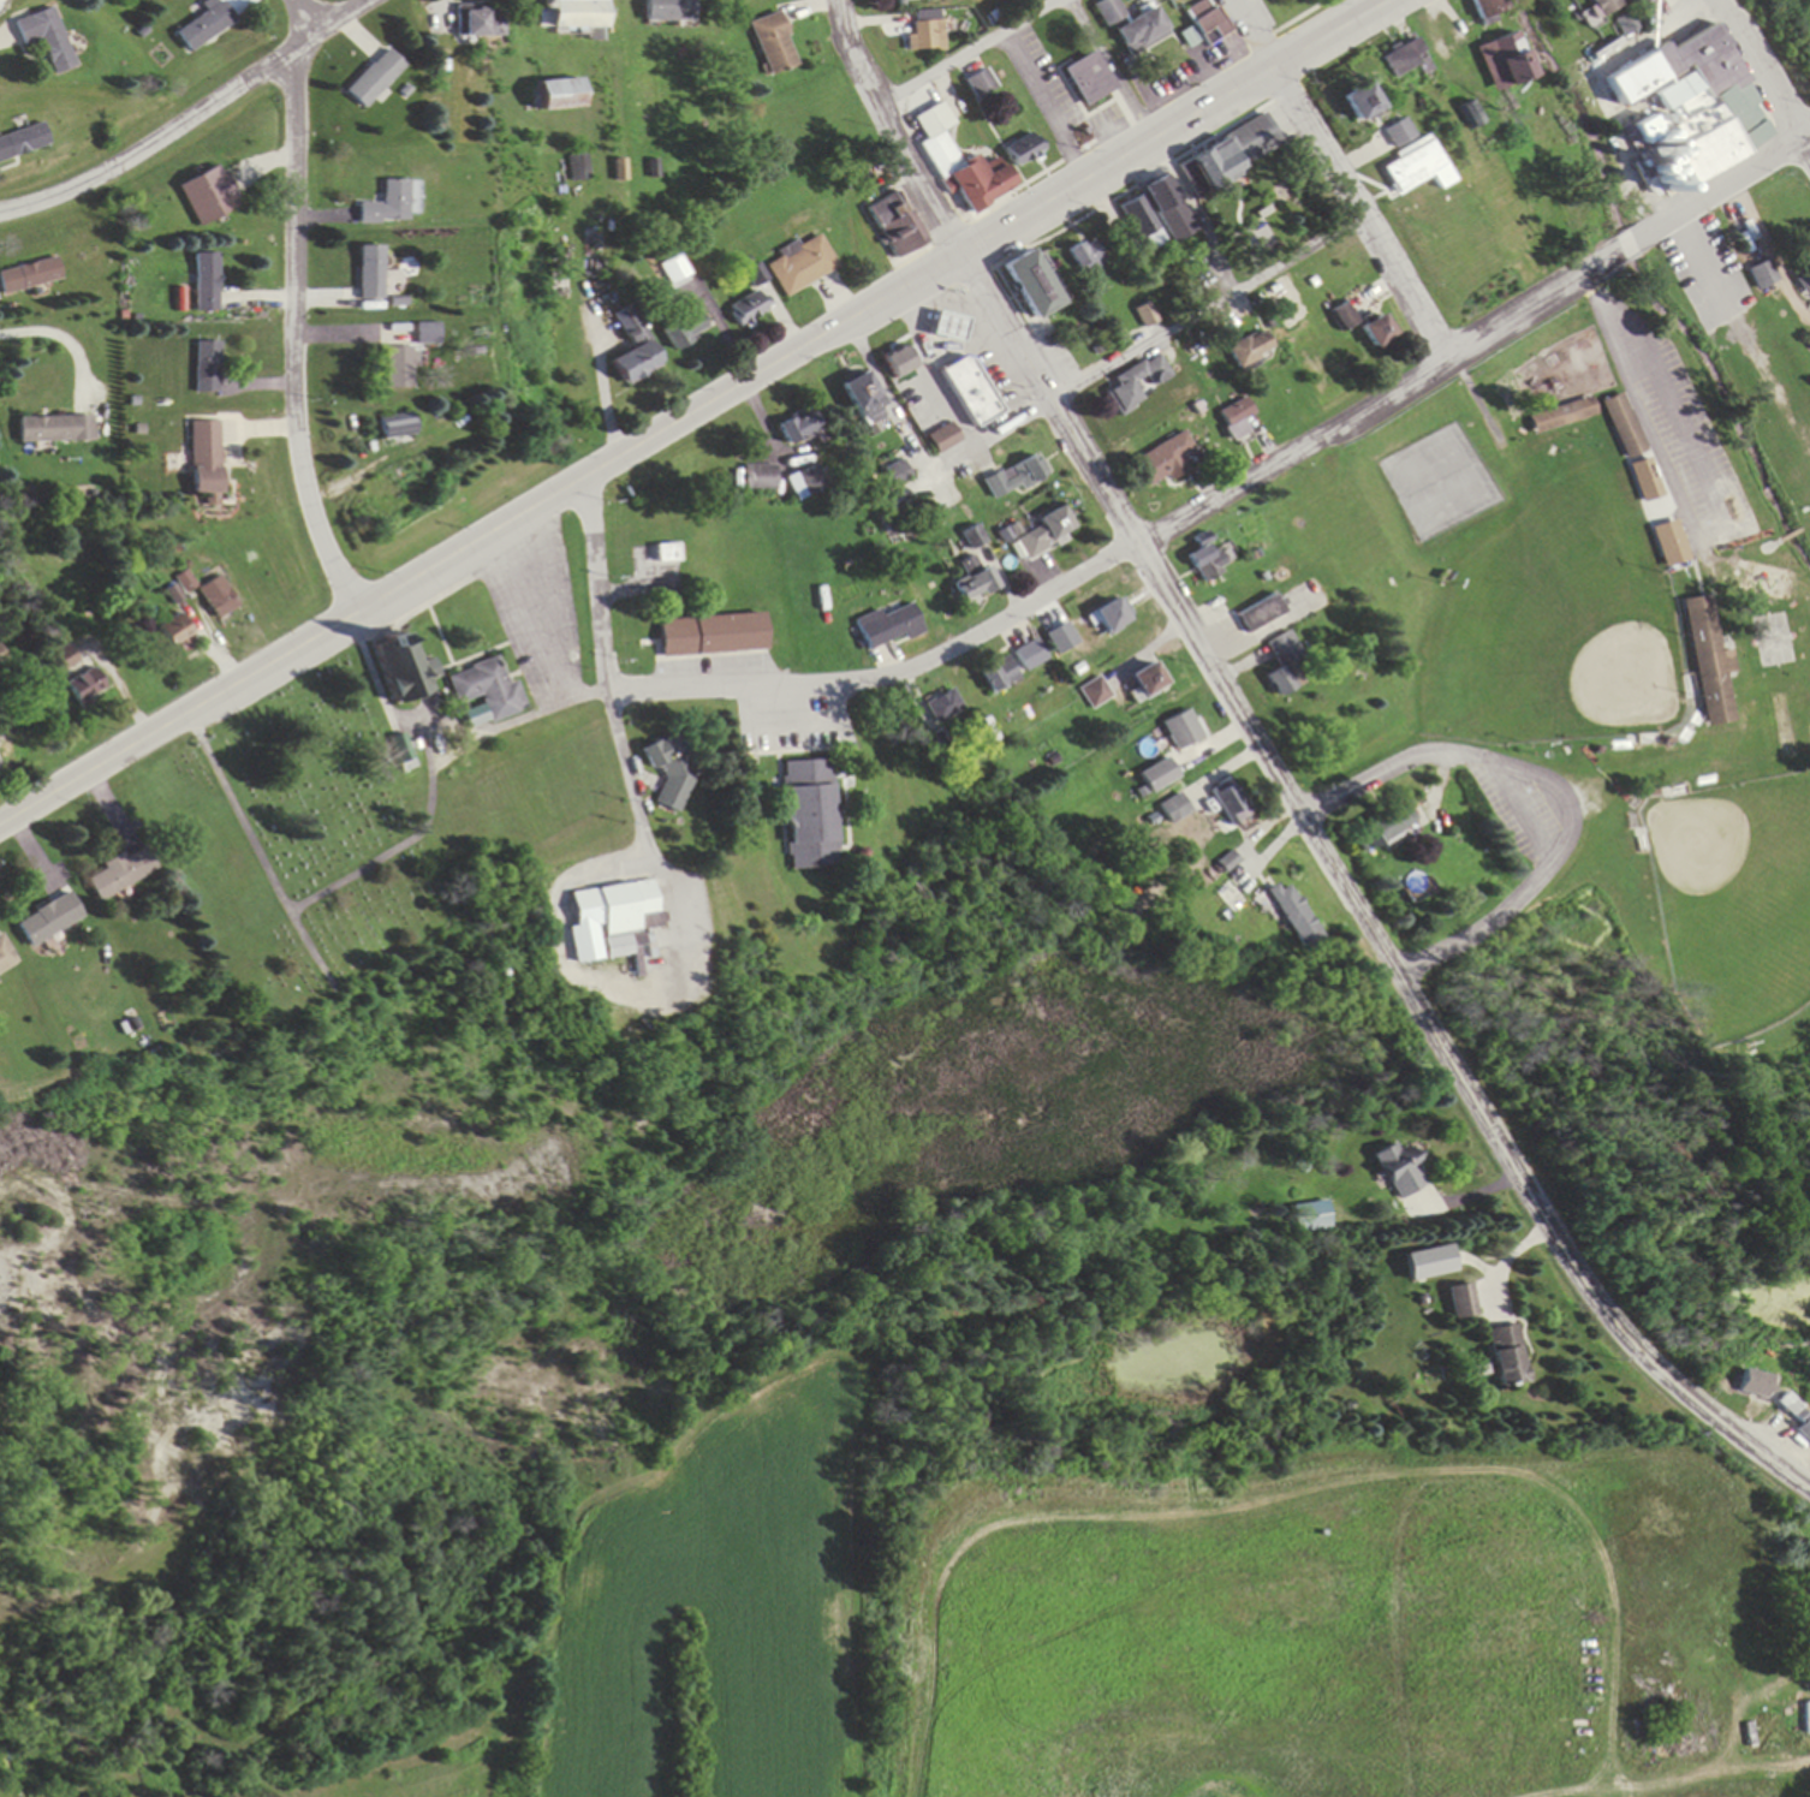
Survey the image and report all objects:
building: (1602, 7)
building: (1674, 8)
road: (1743, 8)
building: (1482, 10)
building: (662, 11)
building: (1108, 12)
building: (573, 13)
building: (1204, 22)
building: (1627, 23)
building: (203, 24)
building: (477, 24)
building: (925, 31)
building: (1138, 32)
building: (44, 38)
building: (1187, 38)
building: (772, 44)
road: (972, 56)
building: (1401, 60)
building: (1501, 61)
road: (1113, 70)
road: (1763, 76)
building: (374, 79)
building: (1088, 79)
building: (980, 84)
building: (555, 96)
building: (1352, 106)
building: (1695, 114)
road: (193, 119)
road: (1175, 126)
road: (891, 132)
building: (1392, 136)
building: (22, 143)
building: (1022, 151)
building: (1232, 155)
building: (960, 166)
building: (1407, 167)
road: (1741, 179)
road: (1340, 182)
building: (207, 197)
building: (387, 206)
building: (1166, 210)
building: (1141, 224)
building: (894, 227)
road: (1655, 233)
building: (1083, 258)
building: (804, 266)
building: (673, 272)
building: (369, 274)
building: (1764, 275)
building: (29, 278)
building: (1804, 282)
building: (204, 284)
building: (1028, 287)
building: (754, 308)
road: (294, 310)
building: (1340, 317)
building: (947, 328)
building: (683, 332)
building: (1374, 334)
building: (425, 335)
road: (1154, 343)
building: (1245, 351)
building: (632, 352)
building: (897, 364)
building: (206, 369)
building: (398, 369)
building: (1131, 386)
building: (967, 392)
building: (863, 401)
building: (1564, 417)
building: (1232, 421)
building: (798, 429)
building: (394, 430)
building: (53, 432)
building: (942, 440)
building: (1629, 444)
building: (204, 458)
building: (1161, 465)
building: (897, 474)
building: (761, 480)
building: (1010, 480)
building: (806, 483)
building: (1042, 534)
road: (480, 540)
road: (1143, 543)
building: (1667, 543)
building: (663, 555)
building: (1209, 561)
building: (970, 581)
building: (218, 597)
park: (1623, 606)
building: (1258, 613)
building: (1108, 617)
building: (887, 626)
building: (173, 631)
building: (1052, 632)
building: (710, 637)
building: (1026, 654)
building: (67, 656)
building: (1707, 661)
building: (1284, 664)
building: (398, 667)
road: (603, 668)
building: (995, 674)
building: (1145, 680)
building: (85, 686)
building: (484, 689)
building: (1094, 692)
building: (942, 709)
building: (1181, 730)
building: (667, 769)
building: (1156, 775)
road: (1555, 789)
building: (1228, 801)
building: (809, 814)
building: (1385, 826)
building: (1227, 862)
building: (118, 875)
building: (1226, 893)
road: (1352, 902)
building: (1292, 915)
building: (617, 916)
building: (48, 921)
building: (5, 957)
building: (1399, 1168)
building: (1312, 1218)
building: (1463, 1302)
building: (1506, 1355)
building: (1752, 1384)
building: (1804, 1430)
building: (1808, 1718)
road: (1669, 1783)

